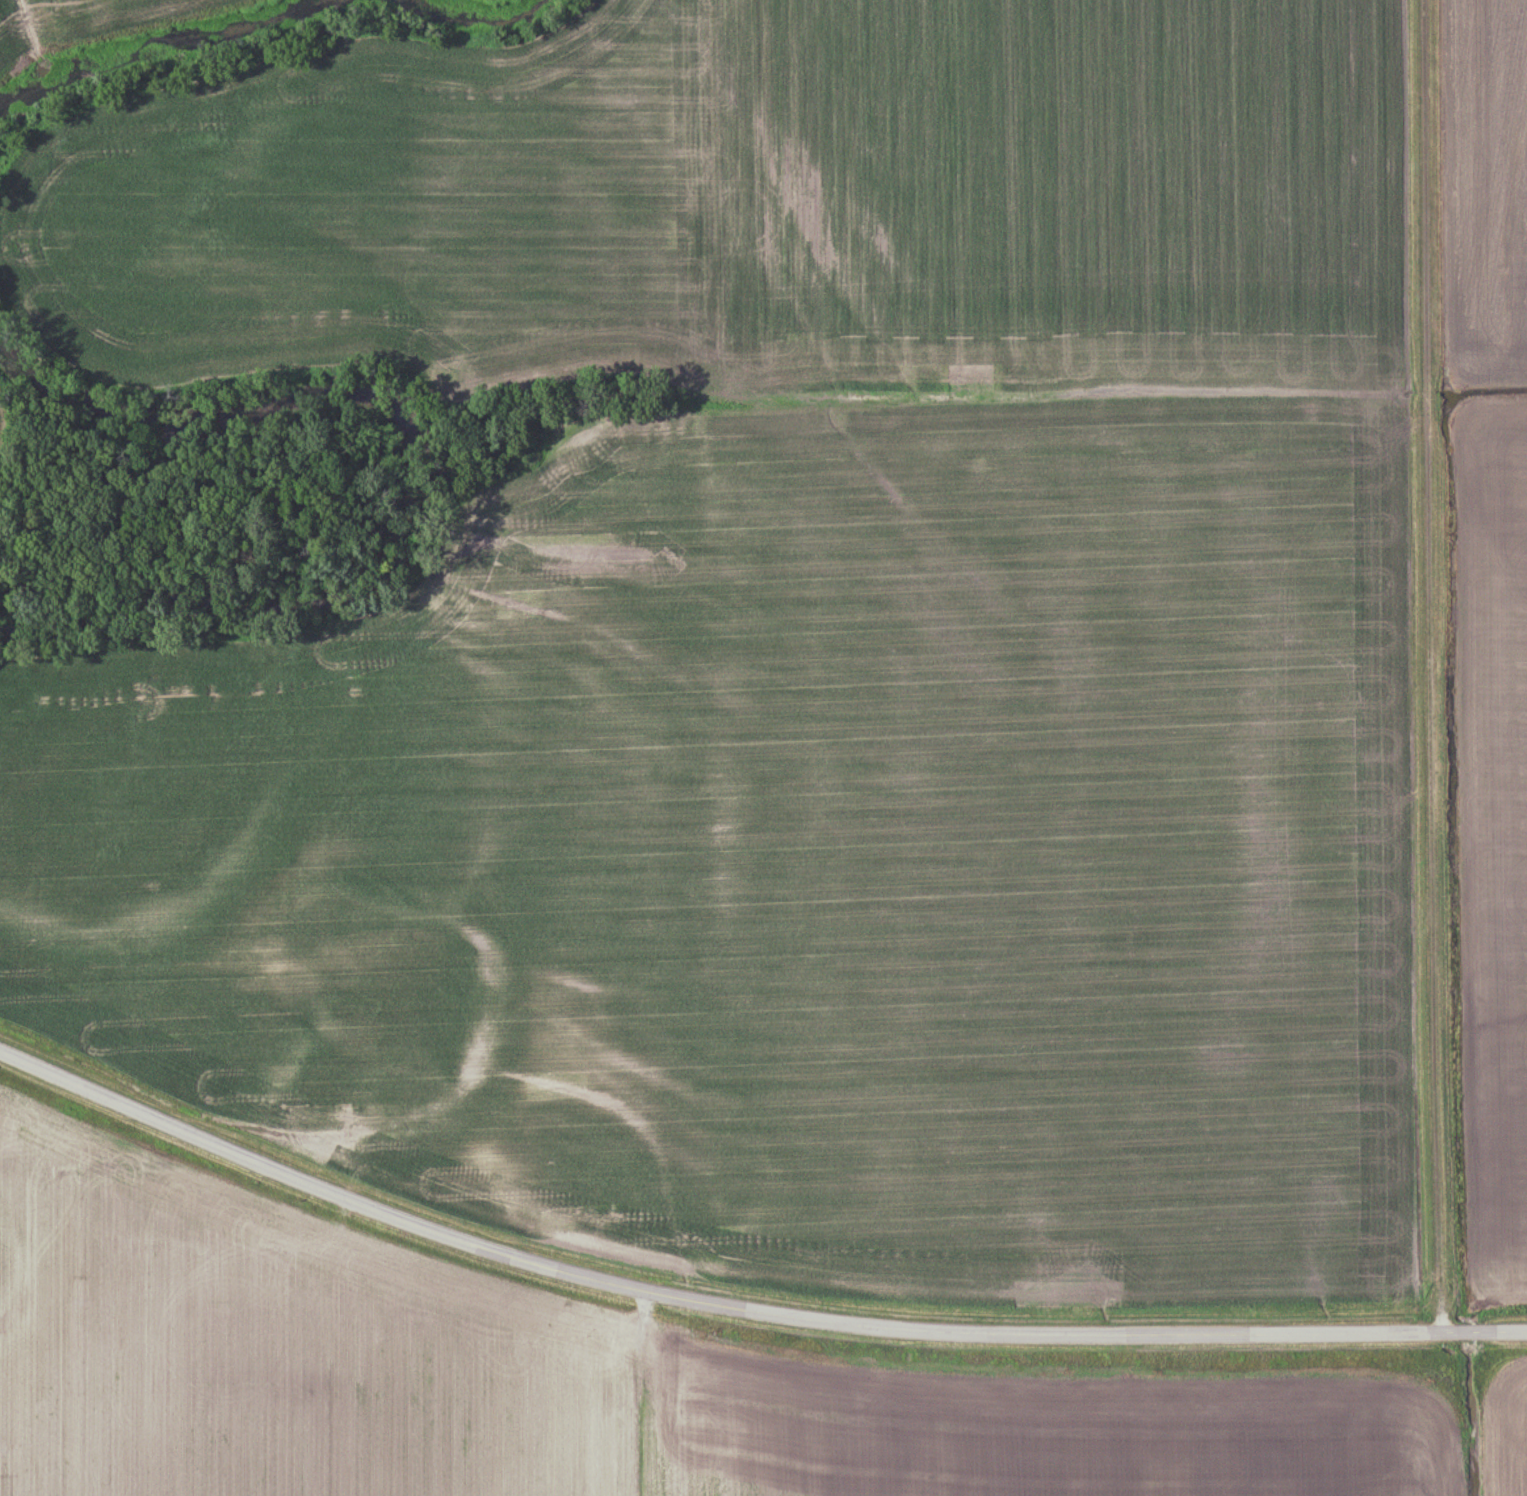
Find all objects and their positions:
road: (1424, 669)
road: (740, 1312)
road: (1467, 1417)

